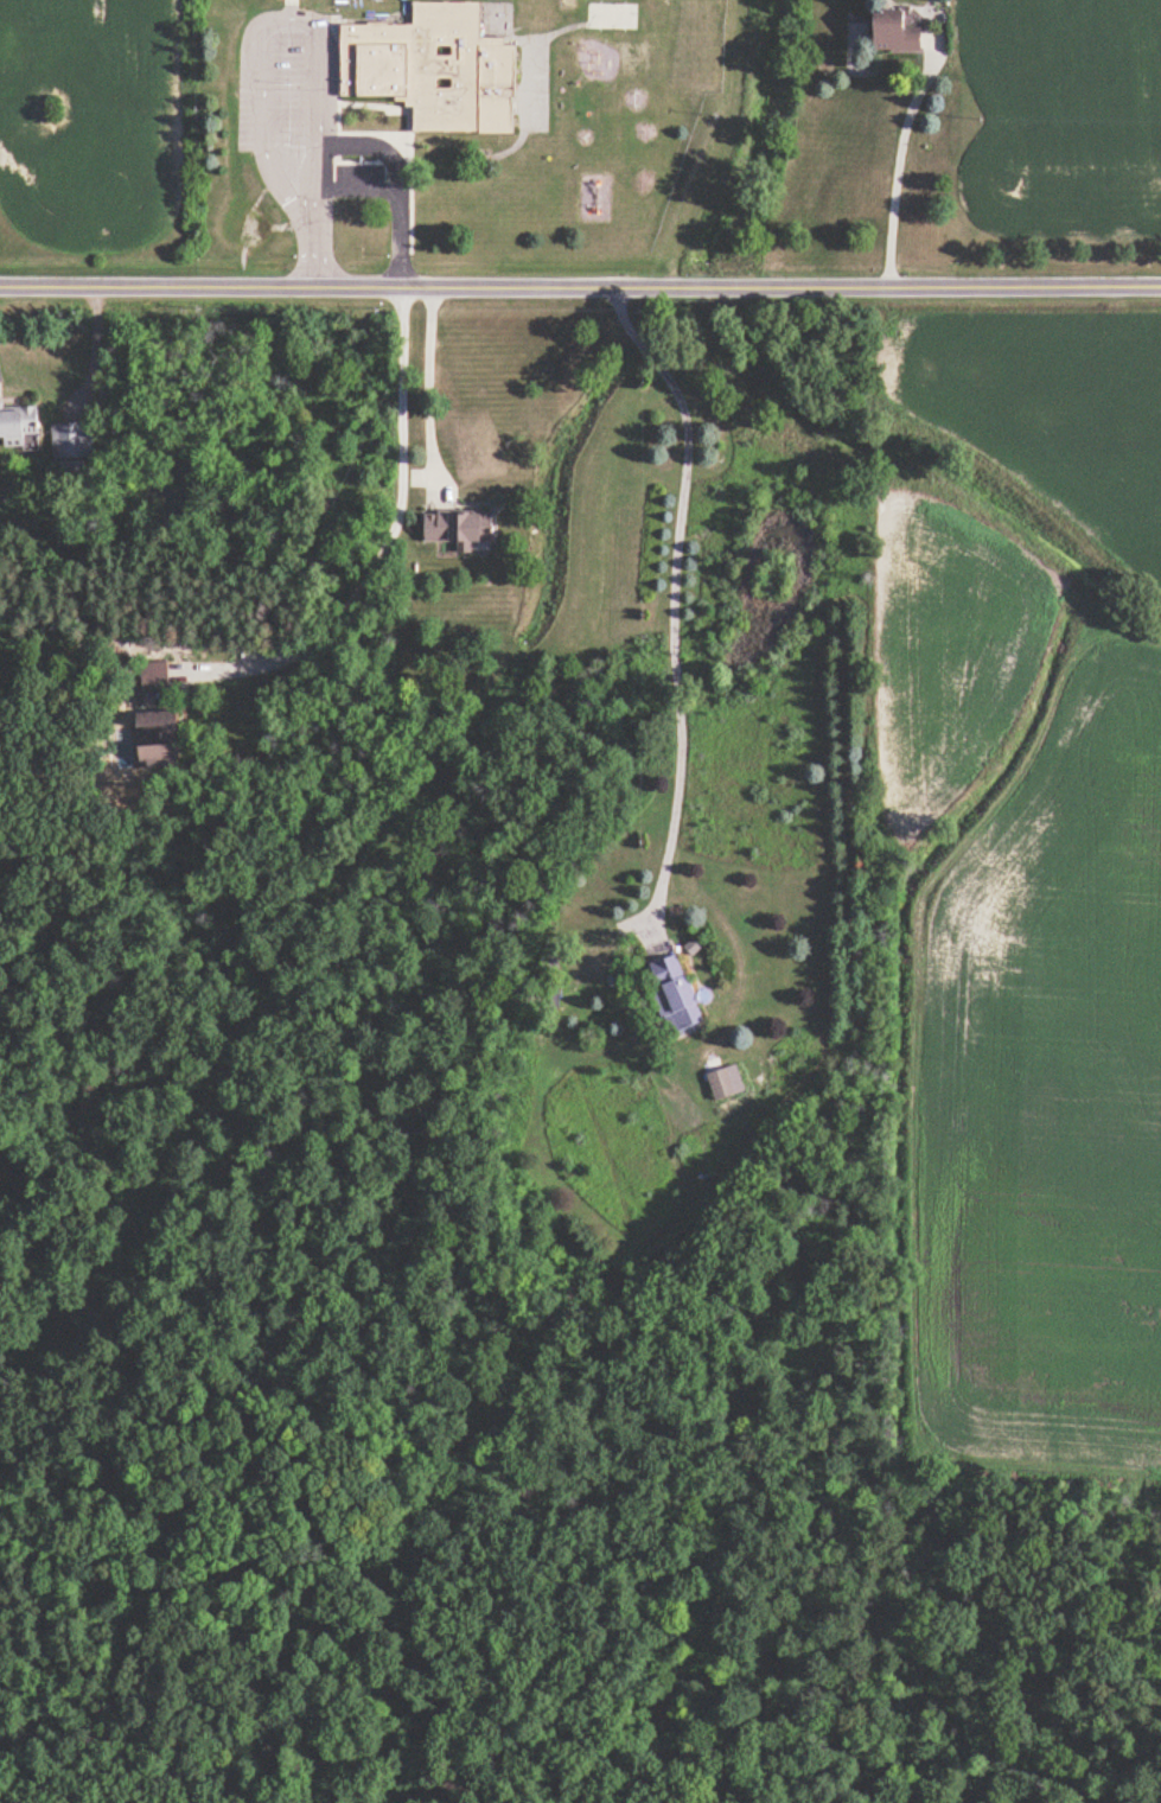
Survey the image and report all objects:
building: (900, 31)
building: (436, 69)
road: (355, 147)
road: (895, 163)
road: (580, 285)
road: (428, 388)
building: (21, 422)
building: (467, 529)
road: (391, 537)
road: (670, 598)
building: (158, 675)
building: (172, 739)
building: (678, 995)
building: (725, 1084)

